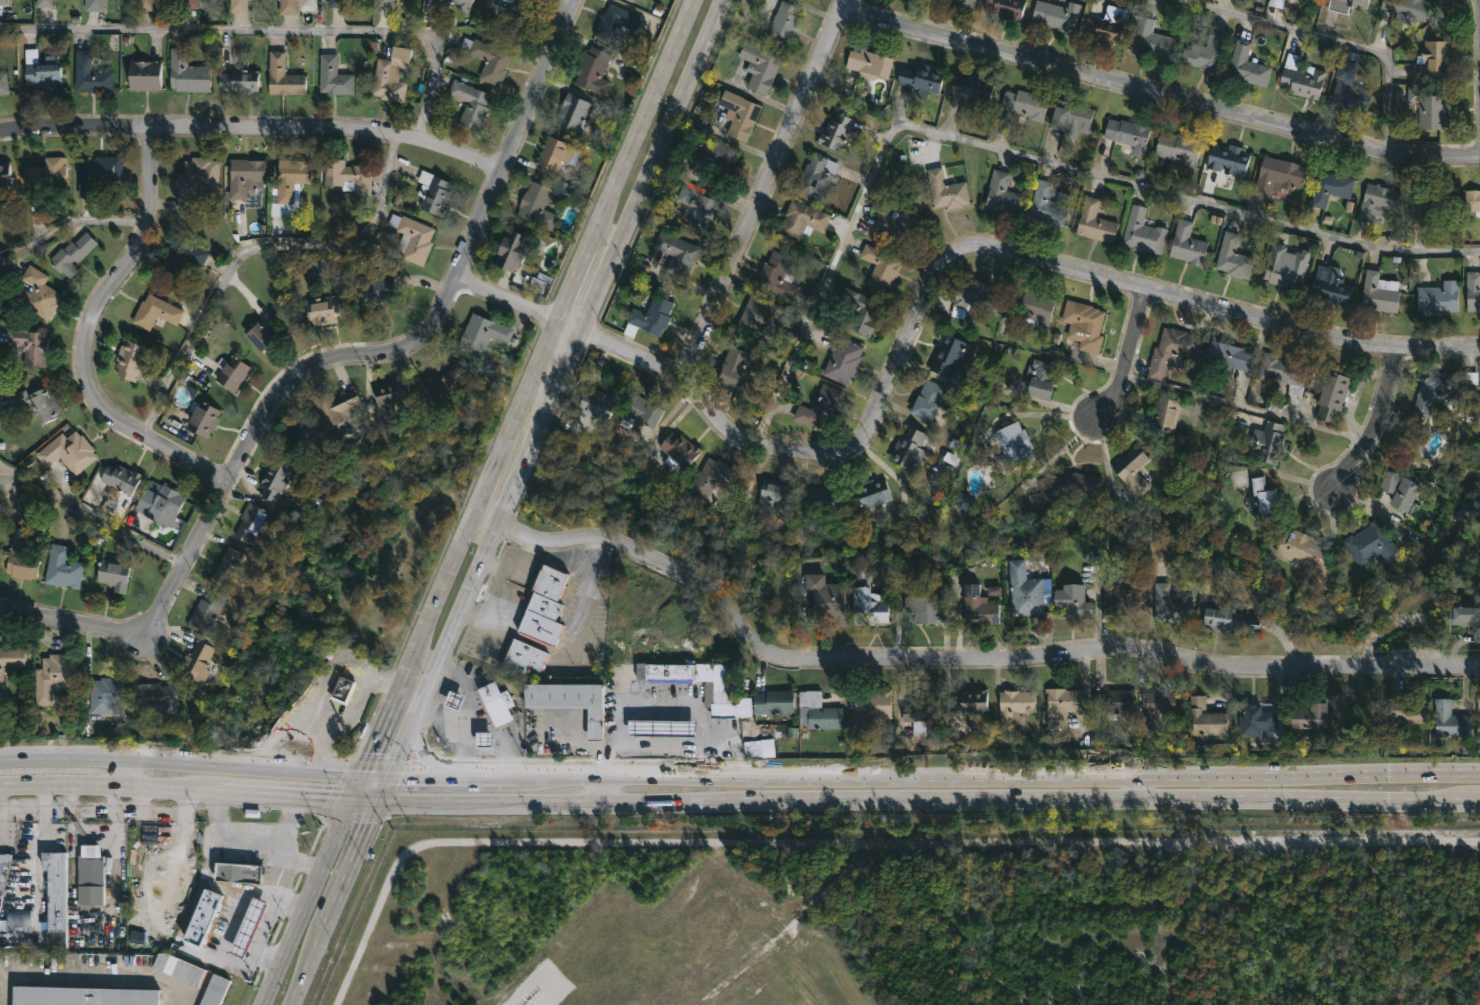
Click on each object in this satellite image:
building: (397, 0)
building: (631, 0)
building: (3, 1)
building: (43, 2)
building: (385, 2)
building: (966, 2)
building: (1277, 2)
building: (188, 3)
building: (336, 3)
building: (145, 4)
building: (1344, 4)
building: (93, 5)
building: (238, 5)
road: (1478, 5)
building: (289, 6)
building: (463, 6)
building: (1006, 7)
building: (1409, 8)
building: (516, 12)
building: (1056, 13)
building: (614, 21)
building: (781, 23)
road: (268, 30)
building: (1103, 31)
building: (1150, 38)
road: (1335, 38)
building: (1206, 55)
building: (1438, 57)
building: (489, 58)
building: (870, 62)
building: (1248, 64)
building: (760, 66)
building: (42, 69)
building: (593, 70)
building: (187, 72)
building: (90, 74)
building: (145, 74)
building: (283, 76)
building: (333, 76)
building: (922, 77)
building: (239, 80)
building: (388, 80)
building: (1303, 81)
building: (3, 82)
building: (972, 88)
building: (1350, 90)
road: (1158, 92)
building: (471, 103)
building: (1026, 103)
building: (1430, 106)
building: (572, 110)
building: (739, 114)
building: (1071, 116)
road: (254, 124)
building: (837, 131)
building: (1129, 132)
building: (1180, 149)
building: (552, 152)
building: (719, 153)
road: (1016, 153)
building: (1233, 160)
building: (96, 172)
building: (244, 175)
building: (347, 175)
building: (817, 176)
building: (1277, 176)
building: (45, 178)
building: (291, 178)
building: (196, 179)
building: (5, 183)
building: (1331, 187)
road: (764, 188)
building: (946, 189)
building: (433, 192)
building: (1003, 193)
building: (1427, 197)
building: (1378, 200)
building: (1473, 200)
building: (1049, 204)
building: (537, 205)
building: (700, 206)
building: (802, 219)
building: (1096, 221)
building: (899, 223)
road: (68, 227)
building: (1143, 231)
building: (412, 237)
building: (1188, 243)
road: (252, 248)
building: (511, 249)
building: (71, 253)
building: (677, 253)
building: (182, 254)
building: (1234, 256)
building: (881, 265)
building: (1282, 268)
building: (778, 275)
building: (539, 282)
building: (1330, 285)
building: (377, 288)
building: (1473, 290)
building: (36, 292)
building: (1380, 293)
building: (975, 296)
building: (1439, 298)
building: (1032, 305)
road: (921, 308)
building: (323, 309)
building: (863, 311)
building: (154, 312)
building: (759, 315)
building: (650, 316)
building: (1084, 324)
building: (261, 331)
road: (89, 332)
building: (482, 333)
road: (411, 342)
building: (29, 345)
building: (1173, 351)
building: (948, 354)
road: (1130, 356)
building: (842, 358)
building: (1227, 358)
building: (129, 359)
building: (734, 365)
building: (1281, 370)
building: (232, 373)
building: (1041, 377)
road: (528, 383)
building: (1439, 389)
building: (451, 393)
building: (1333, 395)
building: (391, 398)
road: (551, 398)
building: (929, 398)
building: (37, 402)
building: (597, 404)
building: (821, 408)
building: (336, 409)
building: (645, 409)
building: (1164, 414)
building: (202, 417)
road: (1374, 418)
building: (298, 437)
building: (1269, 441)
building: (1014, 446)
building: (909, 447)
building: (680, 449)
building: (67, 451)
building: (1133, 470)
building: (713, 476)
building: (274, 478)
building: (116, 481)
building: (1070, 486)
building: (1401, 490)
building: (874, 492)
building: (771, 495)
building: (963, 501)
building: (1266, 501)
building: (820, 502)
building: (161, 503)
building: (960, 514)
road: (92, 516)
building: (248, 521)
building: (1373, 545)
building: (1307, 554)
building: (20, 556)
road: (522, 558)
building: (61, 568)
building: (227, 568)
building: (113, 574)
building: (1024, 590)
road: (496, 599)
road: (583, 599)
building: (825, 599)
building: (1124, 599)
building: (1072, 601)
building: (868, 602)
building: (1172, 605)
building: (978, 606)
building: (543, 607)
building: (206, 609)
building: (921, 609)
building: (1466, 614)
building: (1232, 621)
road: (87, 623)
road: (954, 657)
building: (11, 659)
road: (334, 659)
building: (521, 659)
building: (199, 660)
building: (53, 677)
building: (341, 689)
building: (107, 694)
building: (716, 694)
building: (152, 697)
building: (454, 700)
building: (970, 700)
building: (1113, 700)
building: (568, 701)
building: (774, 701)
building: (496, 703)
building: (1015, 703)
road: (656, 704)
building: (1061, 704)
building: (870, 705)
road: (470, 706)
building: (1158, 706)
building: (1407, 708)
building: (818, 709)
building: (921, 709)
road: (444, 715)
building: (1310, 715)
building: (1207, 717)
road: (347, 718)
building: (1451, 718)
building: (1257, 719)
building: (661, 726)
gas station: (661, 726)
building: (484, 739)
road: (278, 741)
road: (578, 741)
road: (322, 742)
road: (500, 748)
road: (603, 750)
road: (659, 750)
road: (420, 751)
road: (183, 756)
road: (126, 768)
traffic signals: (367, 769)
road: (379, 770)
road: (1434, 771)
traffic signals: (391, 772)
road: (450, 772)
road: (949, 773)
road: (110, 781)
road: (361, 782)
road: (606, 785)
road: (1139, 786)
road: (253, 787)
road: (320, 793)
traffic signals: (355, 796)
traffic signals: (380, 798)
road: (871, 798)
road: (1434, 798)
road: (225, 839)
road: (285, 845)
road: (304, 863)
road: (354, 864)
building: (89, 866)
building: (3, 867)
building: (238, 870)
road: (314, 890)
building: (54, 897)
road: (290, 903)
building: (203, 917)
airport: (918, 917)
building: (17, 920)
building: (249, 927)
road: (232, 929)
road: (262, 937)
building: (179, 968)
road: (312, 968)
road: (89, 978)
building: (212, 990)
building: (81, 995)
road: (268, 995)

